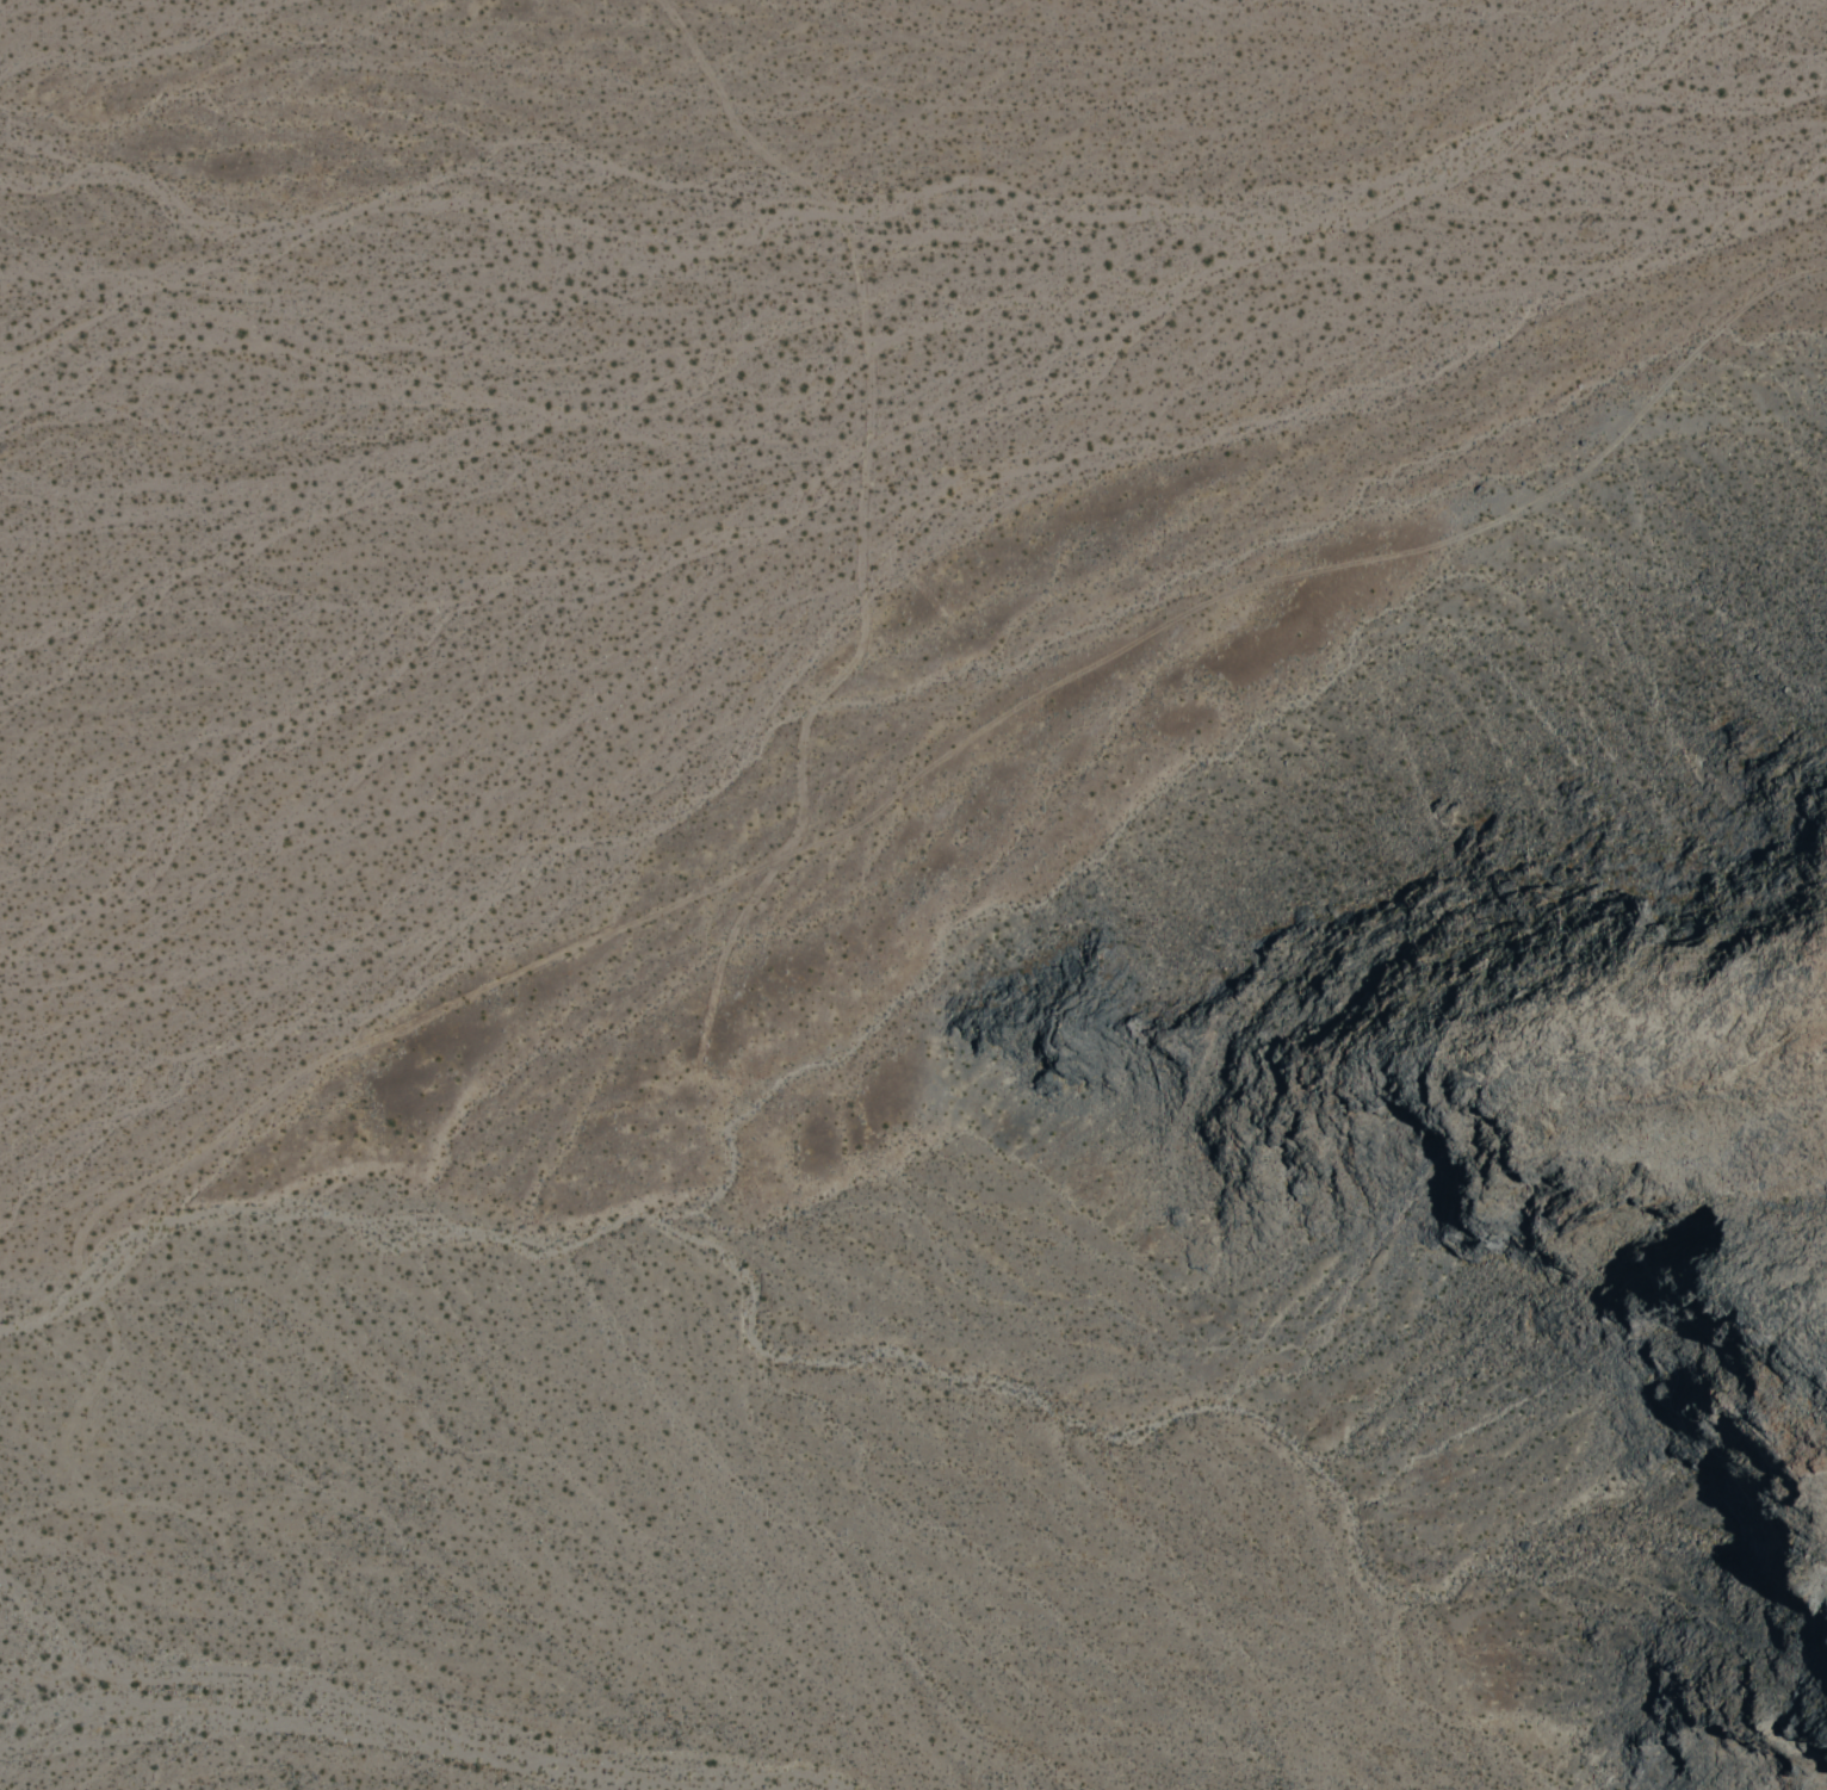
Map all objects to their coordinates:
road: (872, 396)
road: (936, 766)
road: (730, 950)

